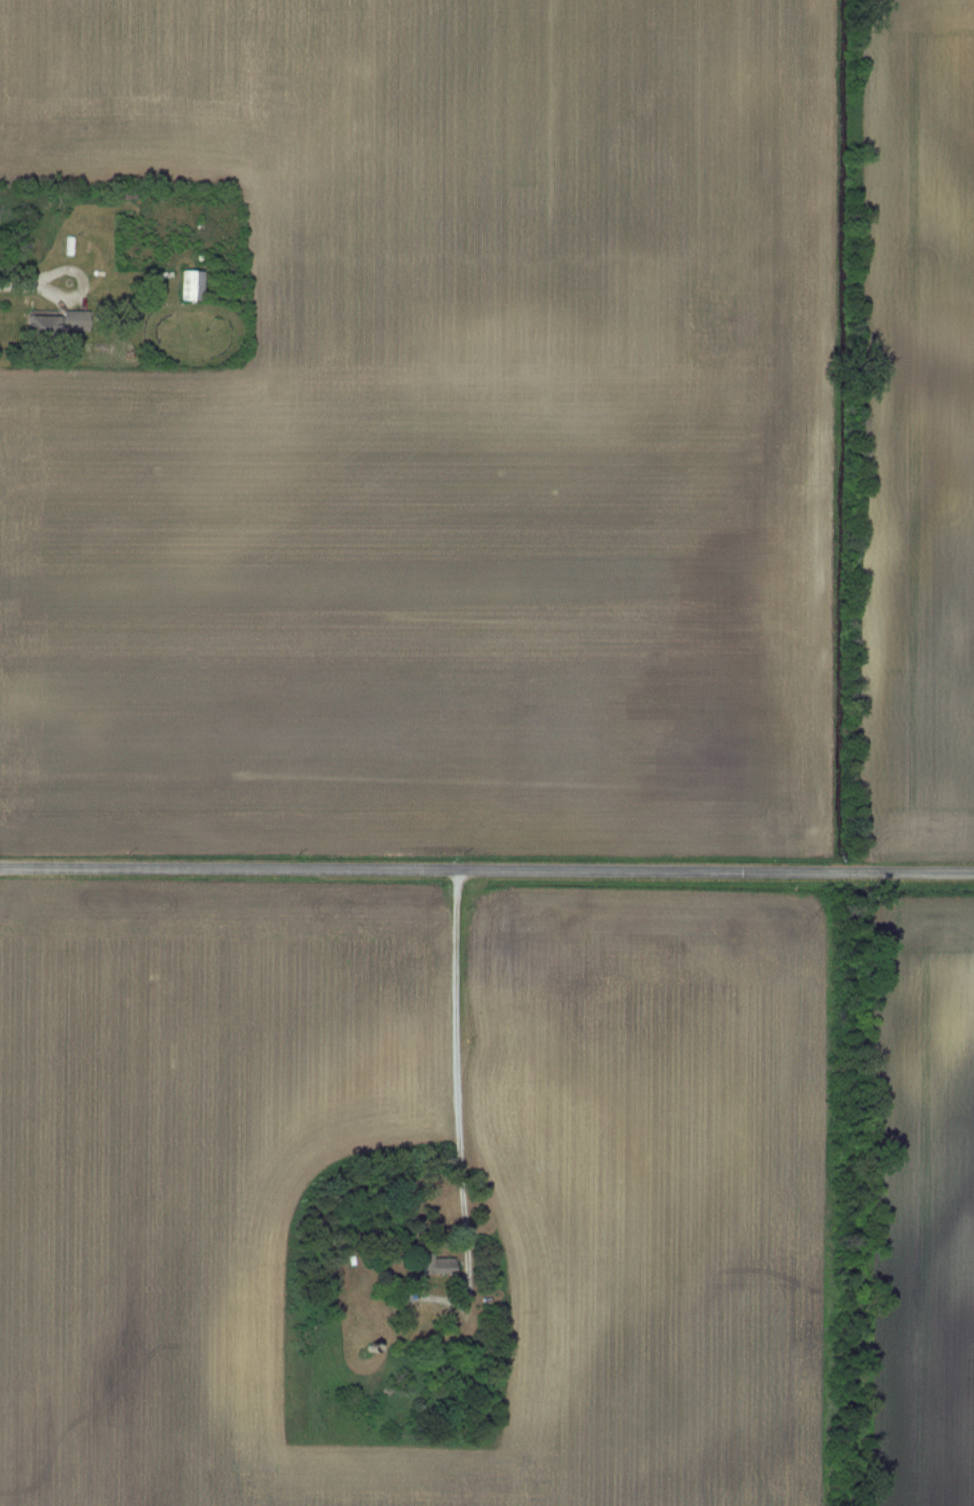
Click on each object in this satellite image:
building: (192, 285)
building: (42, 326)
road: (486, 869)
road: (454, 1065)
building: (439, 1265)

